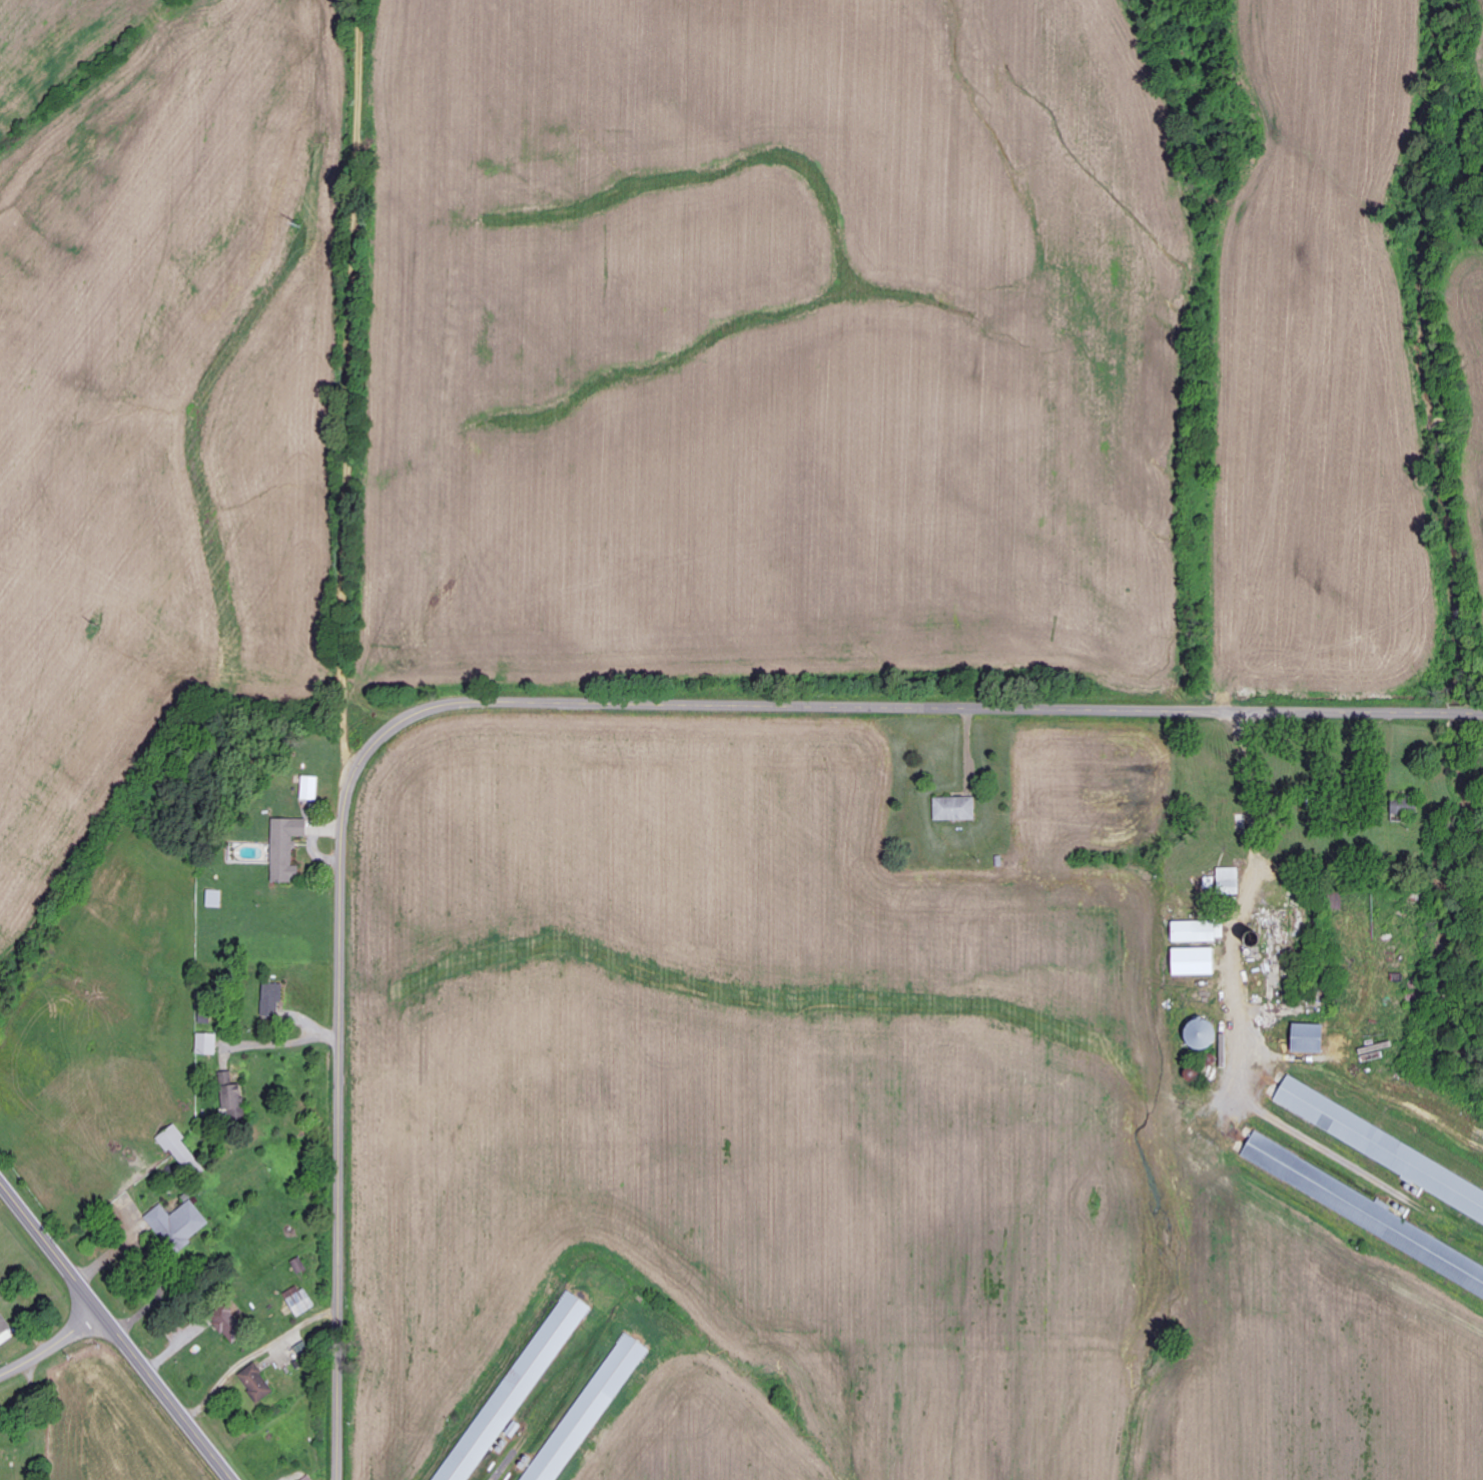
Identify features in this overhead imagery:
road: (350, 403)
road: (551, 697)
building: (310, 788)
building: (955, 809)
building: (287, 848)
building: (1229, 881)
building: (215, 899)
building: (1199, 932)
building: (1195, 962)
building: (1202, 1035)
building: (1309, 1039)
building: (207, 1044)
building: (233, 1097)
building: (1380, 1149)
building: (181, 1150)
building: (1356, 1208)
building: (179, 1225)
road: (53, 1246)
building: (301, 1303)
building: (229, 1325)
building: (5, 1330)
road: (53, 1346)
building: (256, 1384)
road: (171, 1397)
building: (586, 1408)
building: (309, 1478)

